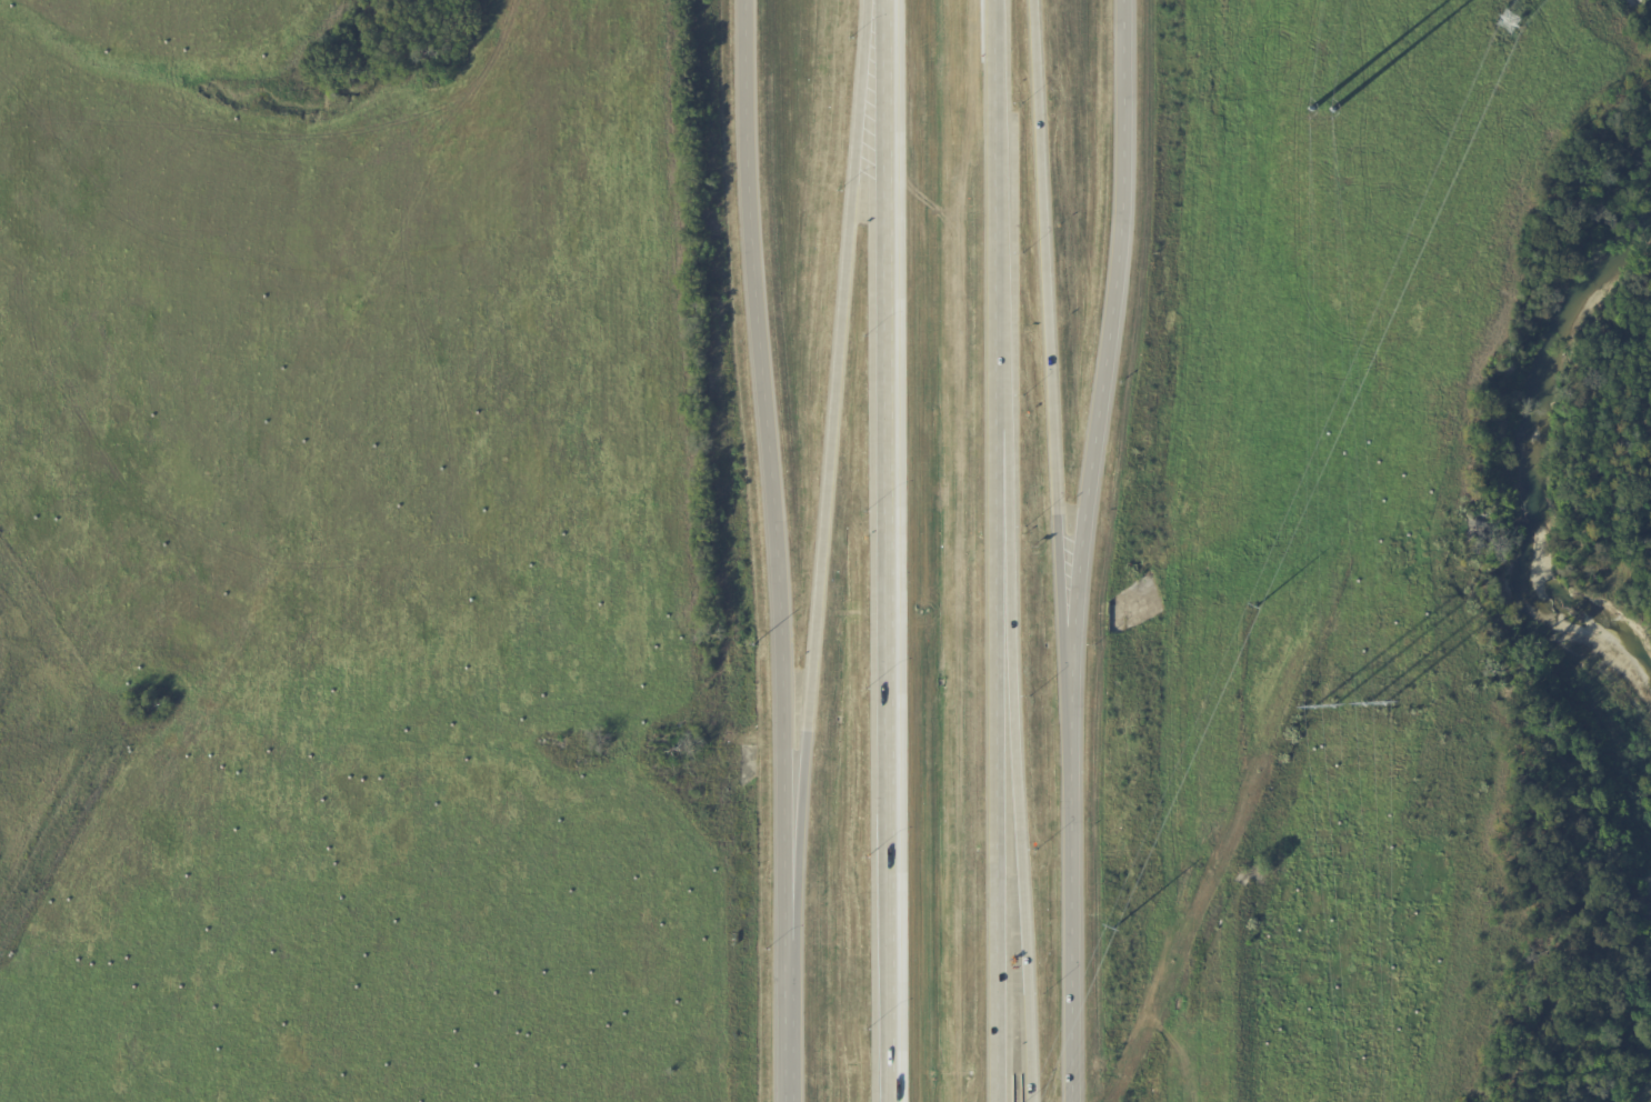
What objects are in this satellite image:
power tower: (1512, 24)
power tower: (1320, 111)
road: (1058, 348)
road: (832, 478)
river: (1530, 482)
road: (784, 550)
road: (1010, 550)
road: (1090, 550)
road: (887, 551)
power tower: (1257, 608)
power tower: (1347, 708)
road: (1023, 842)
power tower: (1114, 929)
river: (1592, 1023)

